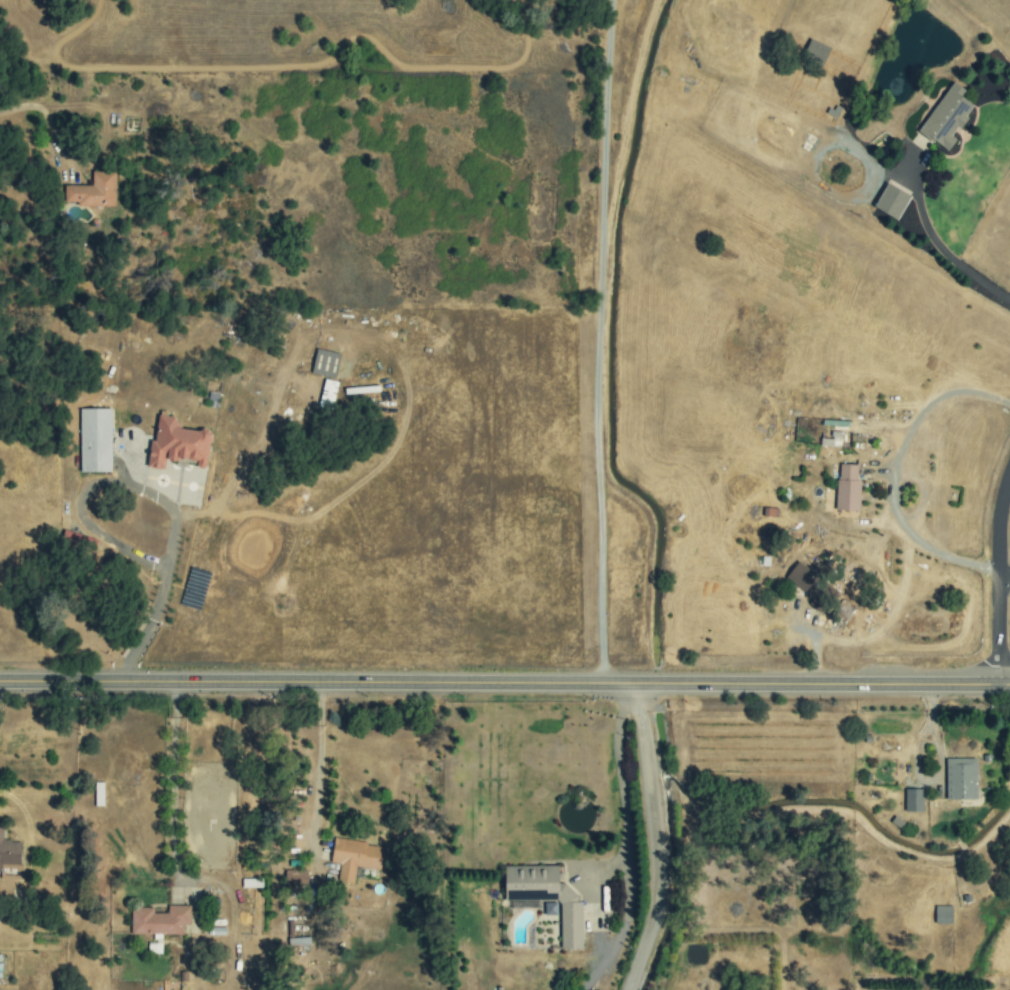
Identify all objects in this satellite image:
building: (816, 51)
road: (43, 112)
building: (946, 117)
building: (94, 191)
road: (942, 246)
road: (600, 341)
building: (325, 363)
building: (328, 394)
building: (832, 439)
building: (95, 440)
building: (177, 443)
road: (898, 470)
building: (847, 488)
road: (177, 521)
road: (1003, 572)
road: (996, 576)
road: (504, 683)
road: (0, 685)
road: (321, 762)
building: (961, 779)
road: (175, 784)
road: (622, 792)
building: (913, 800)
road: (655, 838)
building: (10, 858)
building: (355, 858)
building: (296, 879)
building: (546, 897)
building: (550, 908)
building: (943, 915)
building: (160, 920)
building: (298, 941)
building: (0, 969)

